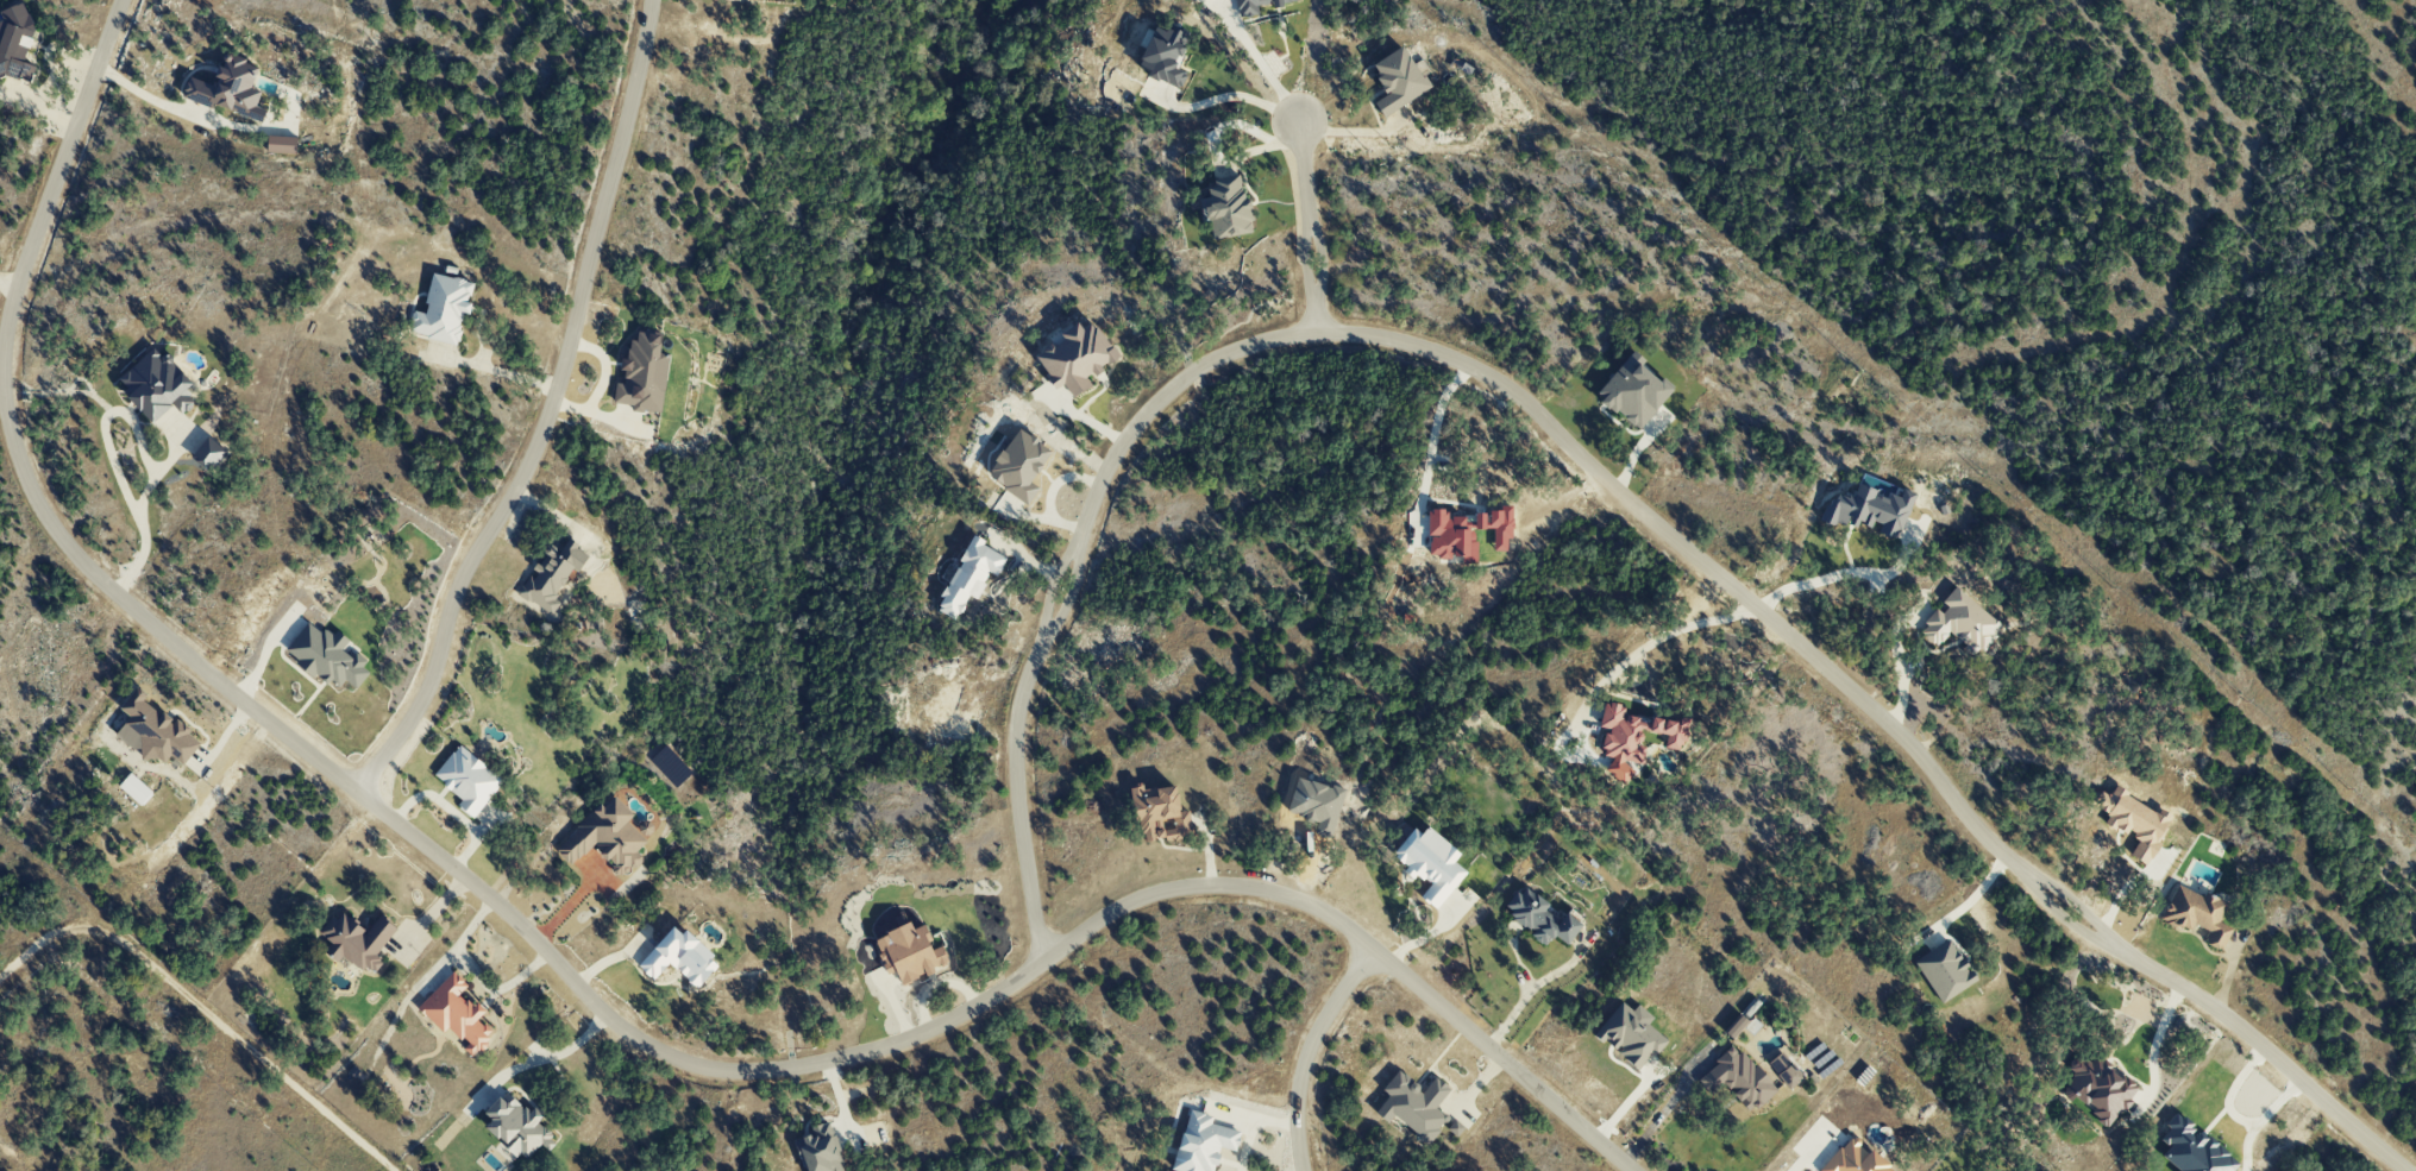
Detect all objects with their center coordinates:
building: (1255, 5)
building: (15, 43)
building: (1163, 56)
road: (1257, 62)
building: (1397, 80)
road: (45, 83)
building: (227, 88)
road: (146, 96)
road: (1220, 100)
building: (281, 144)
road: (1303, 169)
building: (1225, 208)
road: (1320, 258)
road: (1303, 260)
road: (8, 281)
building: (441, 309)
road: (1314, 316)
building: (1074, 358)
road: (0, 366)
road: (492, 371)
building: (642, 373)
building: (156, 384)
building: (1632, 391)
road: (545, 414)
road: (107, 447)
road: (1442, 448)
road: (1571, 451)
building: (207, 453)
road: (15, 458)
building: (1018, 465)
building: (1871, 509)
building: (552, 574)
building: (968, 575)
road: (1845, 575)
road: (1048, 584)
road: (1071, 592)
building: (1959, 621)
road: (1658, 640)
building: (326, 656)
road: (1897, 662)
building: (153, 731)
building: (1636, 732)
building: (467, 779)
road: (1017, 801)
building: (1160, 813)
building: (2133, 820)
building: (605, 838)
building: (1429, 863)
road: (1968, 902)
road: (2077, 906)
building: (2196, 914)
building: (1539, 917)
road: (2065, 921)
building: (357, 939)
building: (908, 952)
building: (678, 957)
building: (1943, 970)
road: (422, 976)
road: (496, 988)
road: (1527, 989)
road: (998, 990)
road: (203, 1012)
building: (456, 1013)
building: (1734, 1026)
building: (1630, 1034)
road: (2158, 1038)
road: (1305, 1050)
road: (2266, 1051)
road: (552, 1054)
building: (1784, 1070)
building: (1736, 1078)
building: (2098, 1088)
road: (2233, 1090)
building: (1413, 1104)
road: (1664, 1108)
road: (2261, 1120)
building: (517, 1127)
road: (1251, 1127)
building: (1455, 1128)
building: (1201, 1142)
building: (818, 1150)
road: (1808, 1156)

